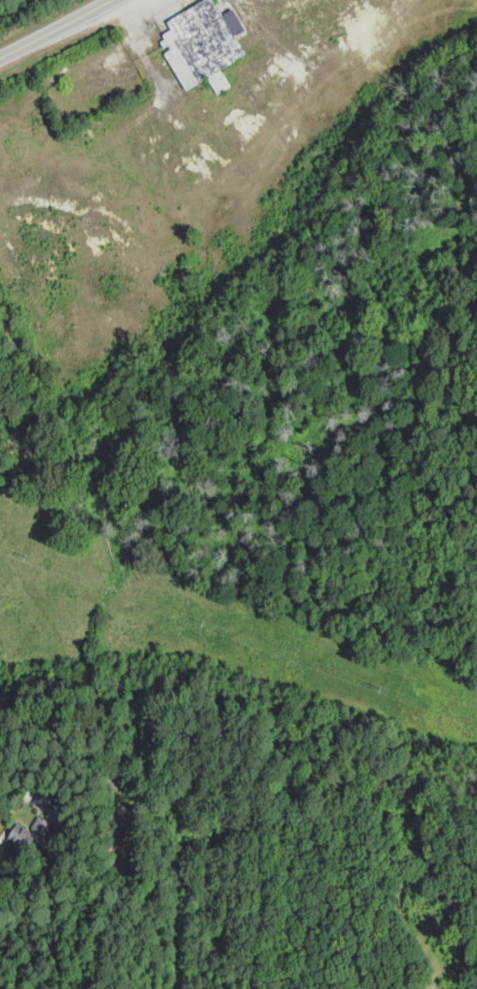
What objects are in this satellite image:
road: (54, 28)
building: (206, 44)
road: (24, 778)
building: (45, 825)

